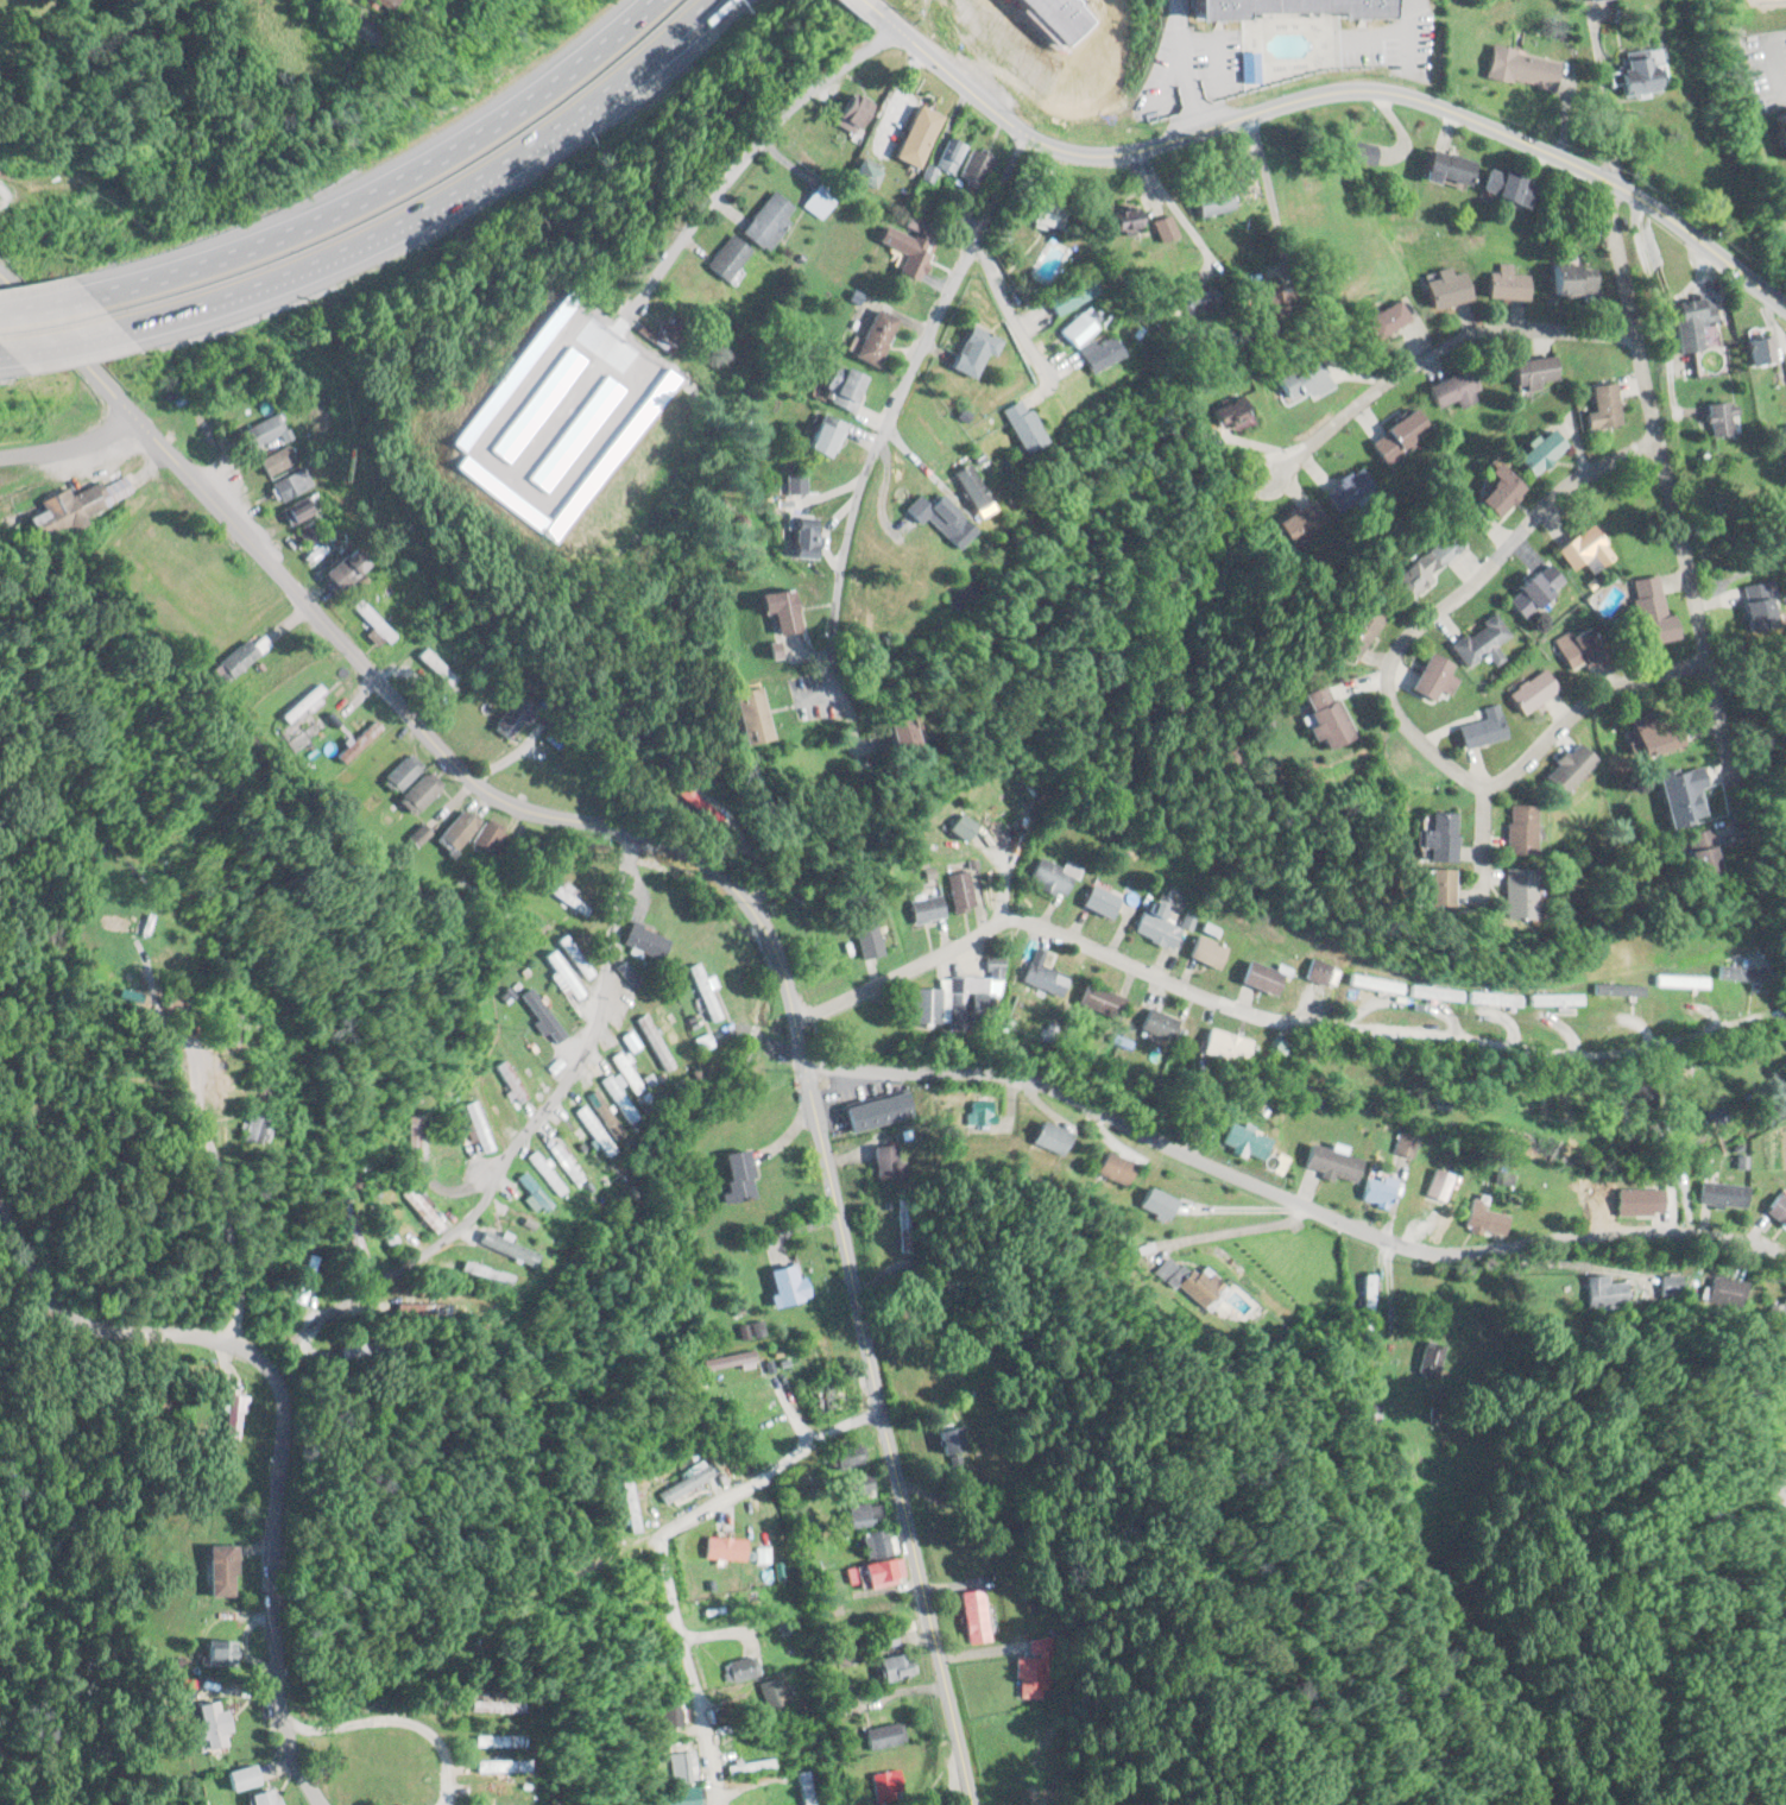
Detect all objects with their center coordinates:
road: (866, 0)
building: (1282, 5)
road: (873, 6)
building: (951, 13)
building: (1289, 13)
road: (669, 33)
road: (682, 36)
building: (1515, 68)
building: (1621, 74)
road: (1334, 81)
building: (845, 112)
building: (1785, 132)
building: (913, 135)
building: (1782, 150)
building: (1361, 152)
road: (741, 153)
building: (944, 156)
building: (1438, 166)
building: (970, 169)
building: (858, 175)
road: (392, 177)
road: (1602, 182)
building: (1502, 188)
building: (1204, 202)
building: (762, 220)
building: (1121, 220)
road: (399, 222)
building: (1160, 228)
building: (902, 250)
building: (721, 258)
building: (1570, 279)
building: (1504, 283)
building: (1443, 288)
building: (1064, 295)
road: (51, 301)
building: (1263, 304)
road: (1004, 309)
building: (1378, 320)
building: (1690, 320)
building: (1077, 326)
building: (872, 336)
road: (67, 337)
building: (970, 351)
road: (1431, 351)
building: (1757, 351)
building: (1094, 352)
building: (1532, 372)
building: (1299, 380)
building: (623, 381)
building: (839, 385)
building: (1454, 389)
building: (1601, 406)
building: (1228, 414)
building: (1718, 418)
building: (1018, 425)
building: (261, 429)
building: (819, 434)
building: (1397, 435)
road: (873, 436)
road: (68, 442)
building: (1536, 452)
building: (273, 459)
building: (500, 468)
building: (289, 484)
building: (966, 487)
building: (1349, 491)
building: (1495, 493)
building: (75, 504)
park: (1737, 506)
building: (301, 507)
building: (934, 507)
road: (1670, 510)
building: (1302, 522)
building: (558, 526)
building: (310, 531)
building: (1582, 549)
building: (1418, 564)
building: (339, 568)
building: (1531, 592)
building: (1754, 604)
building: (1645, 608)
building: (776, 610)
building: (373, 620)
building: (1355, 631)
building: (1476, 640)
building: (1574, 649)
building: (241, 658)
building: (436, 665)
building: (1426, 679)
building: (1525, 692)
road: (1383, 696)
building: (304, 702)
road: (399, 703)
building: (737, 715)
building: (1314, 717)
building: (1476, 728)
building: (883, 731)
building: (1652, 737)
building: (359, 741)
building: (1559, 769)
building: (400, 774)
building: (418, 793)
building: (459, 829)
building: (1512, 829)
road: (630, 835)
building: (487, 838)
building: (1432, 839)
road: (1477, 844)
road: (629, 850)
building: (1691, 853)
building: (1050, 877)
building: (1422, 889)
building: (959, 891)
building: (1506, 896)
building: (1097, 901)
building: (924, 909)
building: (1153, 929)
building: (867, 935)
building: (645, 939)
building: (1205, 953)
building: (575, 958)
road: (903, 967)
building: (1317, 971)
building: (563, 974)
building: (1738, 974)
building: (1260, 977)
building: (1043, 978)
building: (1677, 982)
building: (1371, 984)
building: (703, 992)
building: (1432, 993)
building: (959, 997)
building: (1098, 1001)
building: (539, 1014)
building: (664, 1023)
building: (1156, 1024)
road: (1390, 1033)
building: (703, 1042)
building: (656, 1046)
building: (1224, 1047)
building: (639, 1055)
building: (626, 1072)
building: (507, 1080)
building: (617, 1096)
building: (876, 1111)
building: (977, 1111)
building: (604, 1113)
building: (473, 1123)
building: (246, 1128)
road: (524, 1132)
building: (1045, 1138)
building: (1241, 1140)
building: (410, 1141)
building: (578, 1143)
building: (1405, 1144)
building: (881, 1160)
building: (563, 1162)
building: (1329, 1162)
building: (1107, 1168)
building: (737, 1175)
building: (1375, 1189)
road: (1292, 1192)
building: (1722, 1193)
building: (1635, 1201)
building: (1150, 1203)
building: (1776, 1208)
building: (421, 1210)
building: (1484, 1220)
building: (383, 1224)
building: (351, 1230)
building: (505, 1248)
building: (304, 1276)
building: (1185, 1280)
building: (783, 1285)
building: (1599, 1286)
building: (1784, 1319)
building: (727, 1361)
building: (739, 1391)
building: (826, 1394)
road: (873, 1406)
building: (234, 1410)
road: (277, 1419)
road: (883, 1433)
road: (813, 1435)
building: (948, 1438)
building: (848, 1456)
road: (756, 1475)
building: (852, 1485)
building: (682, 1491)
building: (626, 1506)
building: (863, 1514)
building: (873, 1544)
building: (722, 1548)
building: (761, 1554)
building: (216, 1569)
building: (873, 1571)
road: (671, 1616)
building: (972, 1616)
building: (883, 1639)
building: (214, 1652)
building: (838, 1655)
building: (892, 1666)
building: (741, 1668)
building: (1034, 1670)
building: (834, 1686)
building: (772, 1691)
building: (486, 1706)
building: (667, 1711)
road: (392, 1717)
building: (206, 1723)
building: (882, 1736)
building: (480, 1740)
building: (743, 1765)
building: (486, 1766)
building: (681, 1766)
building: (236, 1776)
building: (802, 1787)
building: (680, 1795)
building: (257, 1797)

